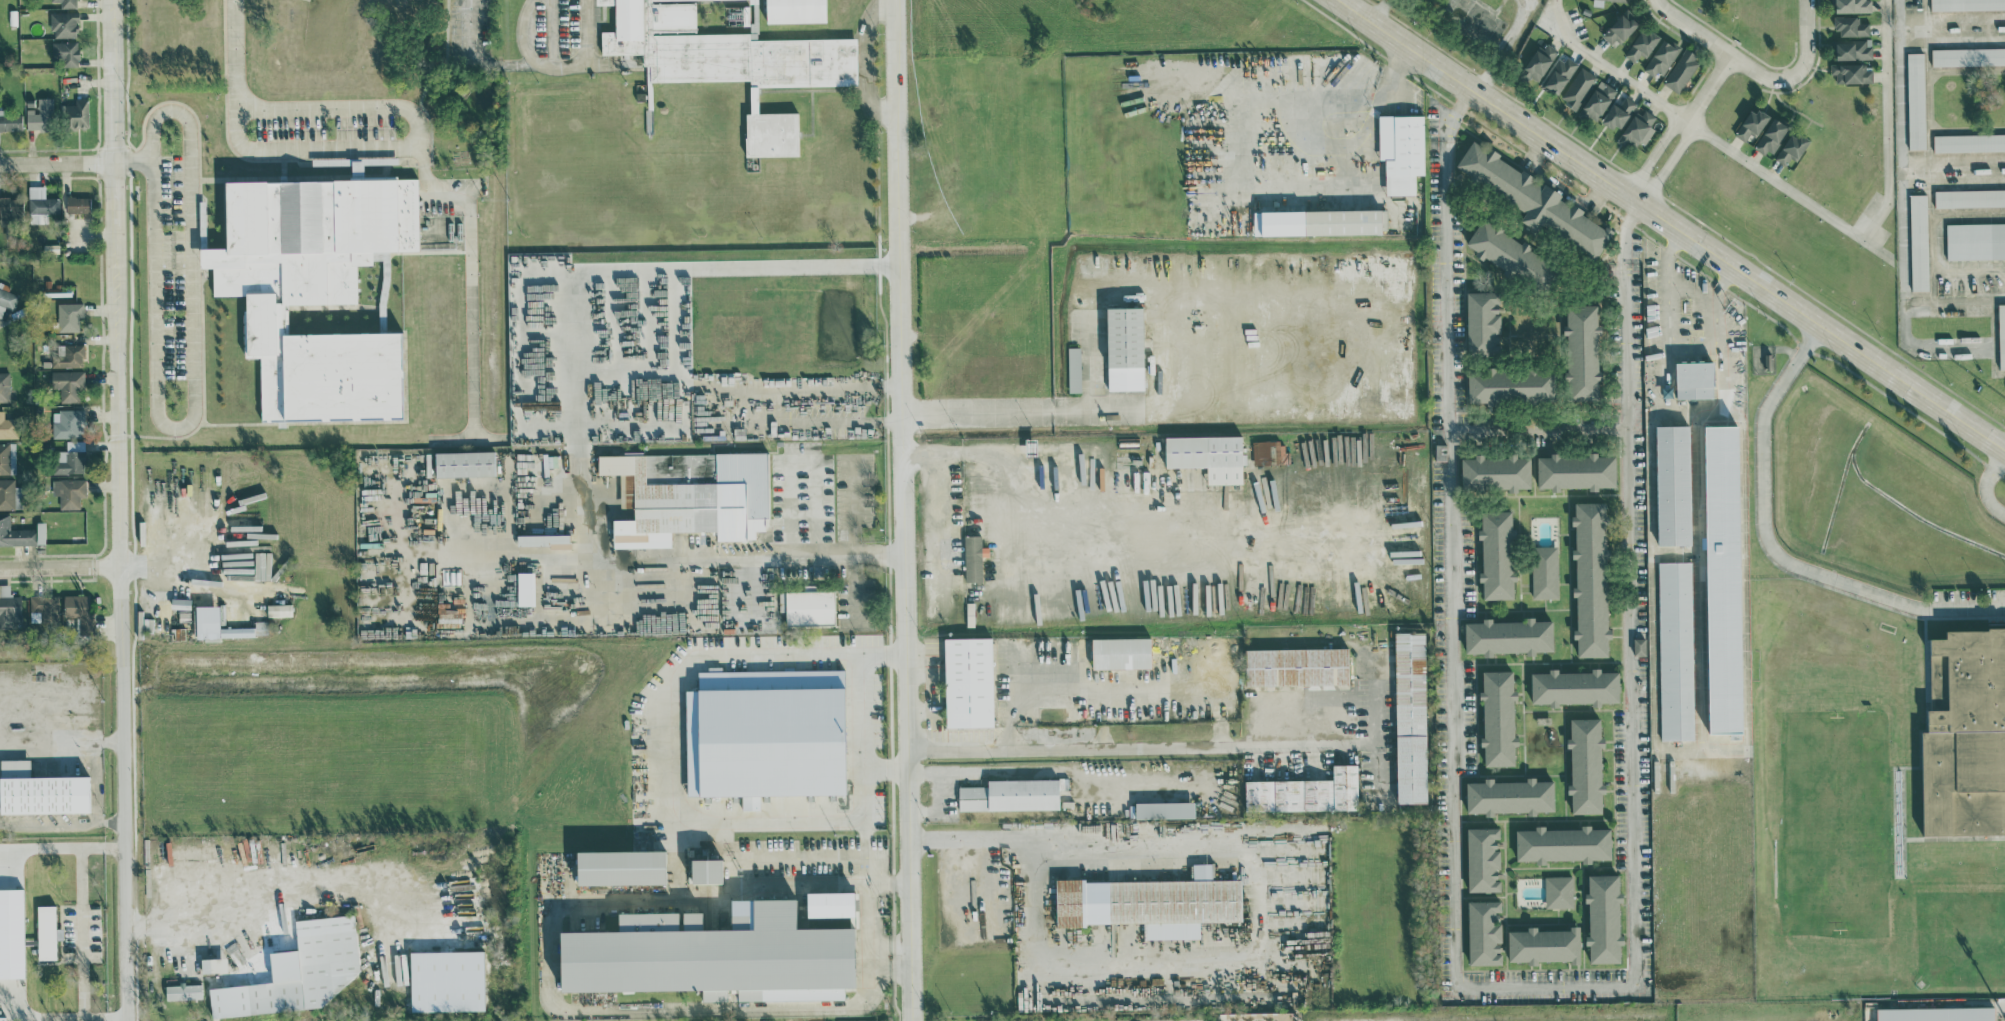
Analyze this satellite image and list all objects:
building: (67, 3)
building: (1966, 4)
building: (1851, 5)
road: (1377, 10)
building: (795, 11)
park: (1717, 13)
road: (1952, 14)
building: (63, 23)
building: (1850, 26)
building: (1619, 27)
road: (1806, 38)
building: (1641, 44)
road: (1501, 46)
building: (1852, 49)
road: (1723, 50)
building: (64, 52)
building: (1968, 56)
building: (1661, 57)
road: (474, 59)
building: (730, 61)
building: (1539, 61)
road: (1401, 63)
road: (556, 69)
building: (1681, 69)
building: (1852, 72)
building: (1559, 74)
road: (232, 80)
building: (1578, 87)
building: (1597, 100)
building: (1916, 100)
building: (1618, 112)
building: (74, 113)
building: (40, 114)
road: (419, 117)
building: (10, 121)
building: (1751, 123)
road: (1889, 125)
road: (1683, 128)
road: (1698, 128)
building: (1637, 129)
building: (1771, 136)
building: (1969, 142)
building: (1791, 147)
building: (1401, 151)
road: (131, 160)
road: (57, 161)
road: (1901, 172)
building: (1969, 197)
building: (1534, 199)
building: (40, 204)
building: (77, 204)
building: (10, 205)
road: (1672, 224)
road: (1209, 228)
road: (193, 236)
building: (1975, 240)
building: (1919, 242)
road: (1878, 251)
building: (1511, 254)
road: (1724, 282)
road: (471, 288)
building: (314, 290)
building: (6, 298)
road: (150, 299)
road: (1091, 305)
building: (68, 316)
building: (1483, 323)
building: (2001, 335)
park: (615, 338)
building: (1124, 348)
road: (1946, 348)
building: (1583, 352)
road: (1661, 353)
building: (67, 355)
building: (1073, 369)
building: (1694, 379)
road: (851, 381)
building: (67, 384)
building: (1509, 384)
building: (4, 386)
road: (1311, 387)
building: (66, 423)
road: (882, 426)
building: (7, 427)
road: (1542, 431)
road: (488, 438)
building: (11, 452)
building: (1269, 452)
building: (1208, 456)
road: (802, 457)
building: (3, 458)
building: (69, 458)
building: (464, 463)
building: (1576, 471)
building: (1495, 472)
building: (1673, 485)
road: (1987, 486)
building: (68, 492)
building: (689, 495)
road: (947, 509)
road: (119, 510)
road: (905, 510)
building: (39, 532)
building: (14, 533)
road: (1082, 535)
road: (853, 541)
road: (1773, 549)
road: (529, 553)
building: (1497, 555)
road: (811, 556)
building: (972, 558)
road: (60, 566)
building: (1544, 572)
building: (1591, 579)
building: (1723, 579)
road: (187, 586)
building: (525, 589)
road: (751, 592)
building: (45, 606)
building: (807, 607)
building: (8, 608)
building: (76, 609)
building: (278, 610)
building: (206, 621)
building: (1508, 637)
building: (1639, 646)
building: (1676, 651)
building: (1120, 653)
road: (1034, 662)
building: (1296, 667)
road: (1746, 677)
building: (968, 682)
building: (1574, 687)
road: (1297, 701)
road: (861, 716)
building: (1410, 717)
building: (1498, 718)
road: (67, 721)
road: (1382, 722)
building: (765, 734)
building: (1965, 735)
road: (99, 742)
road: (1144, 754)
building: (1585, 765)
road: (664, 772)
building: (40, 791)
building: (1305, 793)
road: (94, 794)
building: (1510, 797)
building: (1164, 810)
road: (1298, 836)
road: (975, 843)
building: (1563, 844)
road: (61, 853)
building: (1483, 859)
building: (620, 865)
building: (705, 868)
road: (731, 878)
building: (1558, 891)
building: (829, 902)
building: (1151, 902)
building: (1604, 918)
building: (46, 931)
building: (1484, 931)
road: (159, 932)
road: (86, 936)
building: (1544, 944)
building: (713, 954)
building: (298, 970)
building: (446, 980)
road: (1488, 986)
building: (183, 991)
road: (619, 1007)
building: (1936, 1013)
road: (39, 1016)
building: (721, 1020)
building: (859, 1020)

